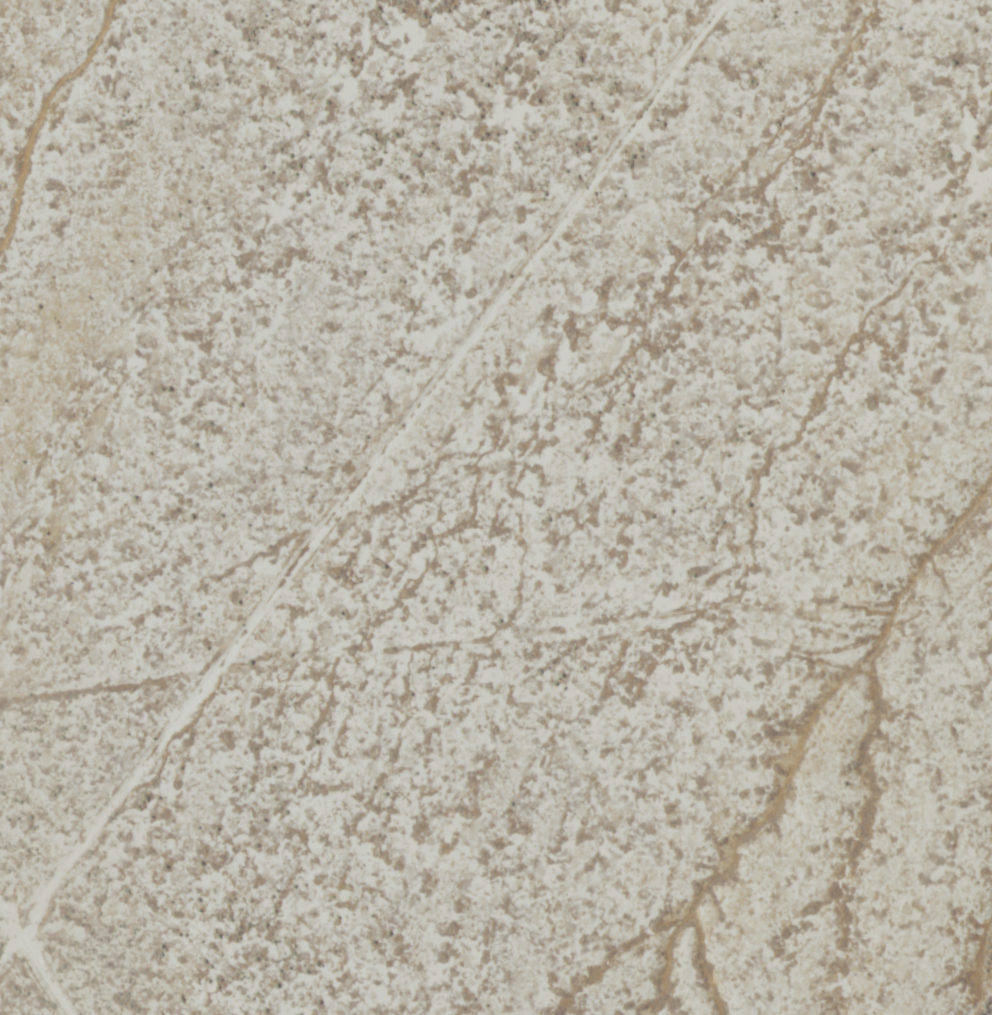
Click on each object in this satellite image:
road: (19, 985)

